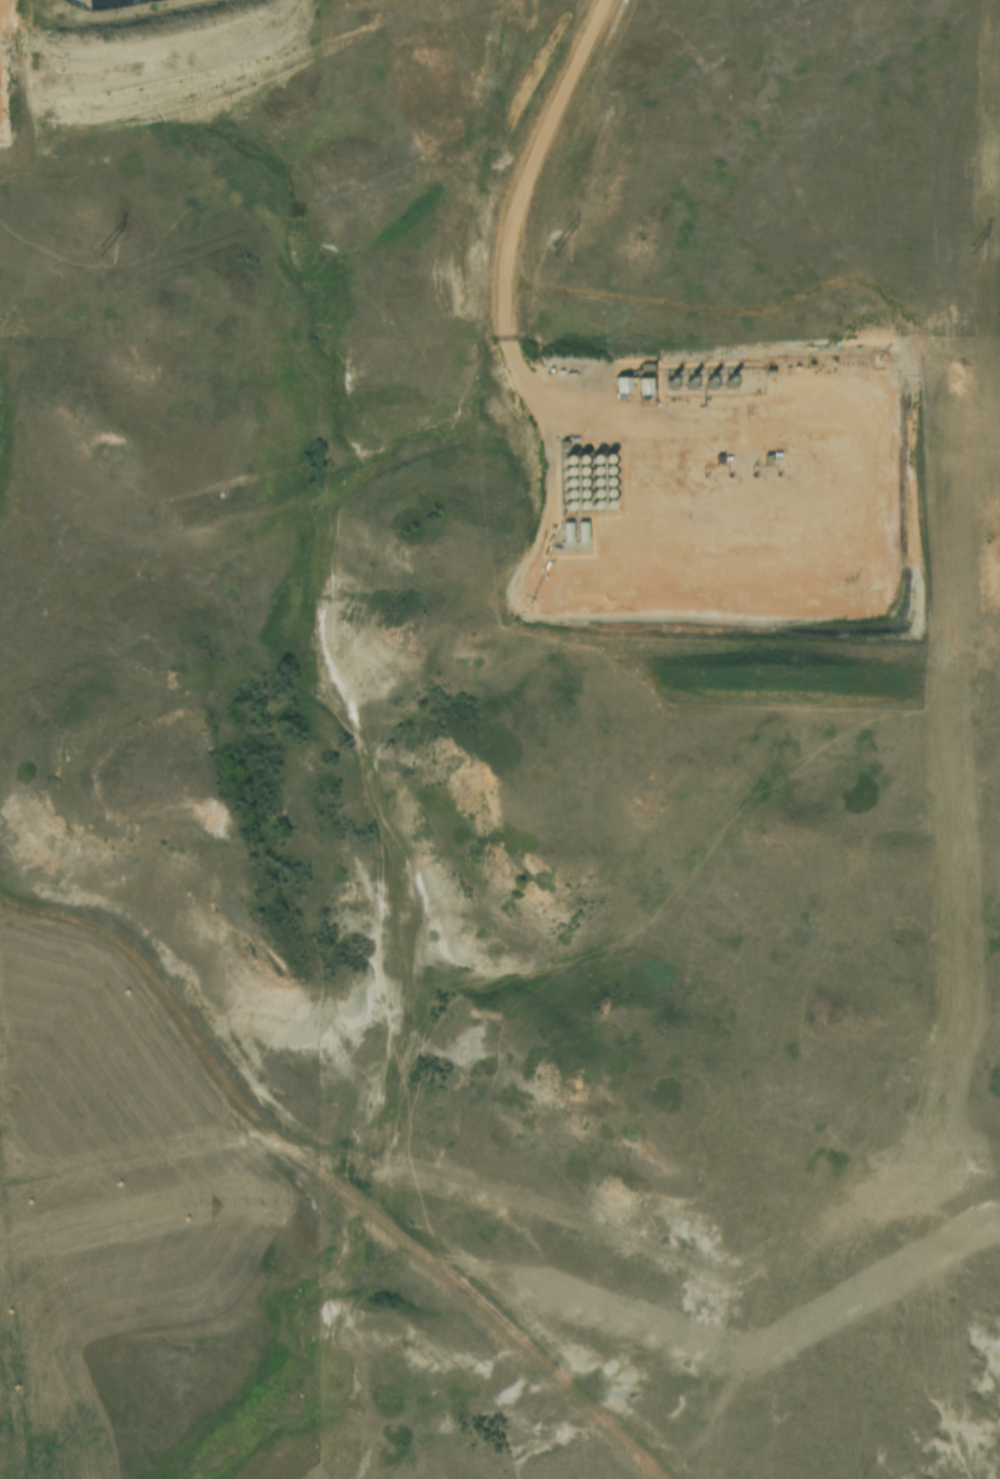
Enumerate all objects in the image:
road: (325, 1178)

